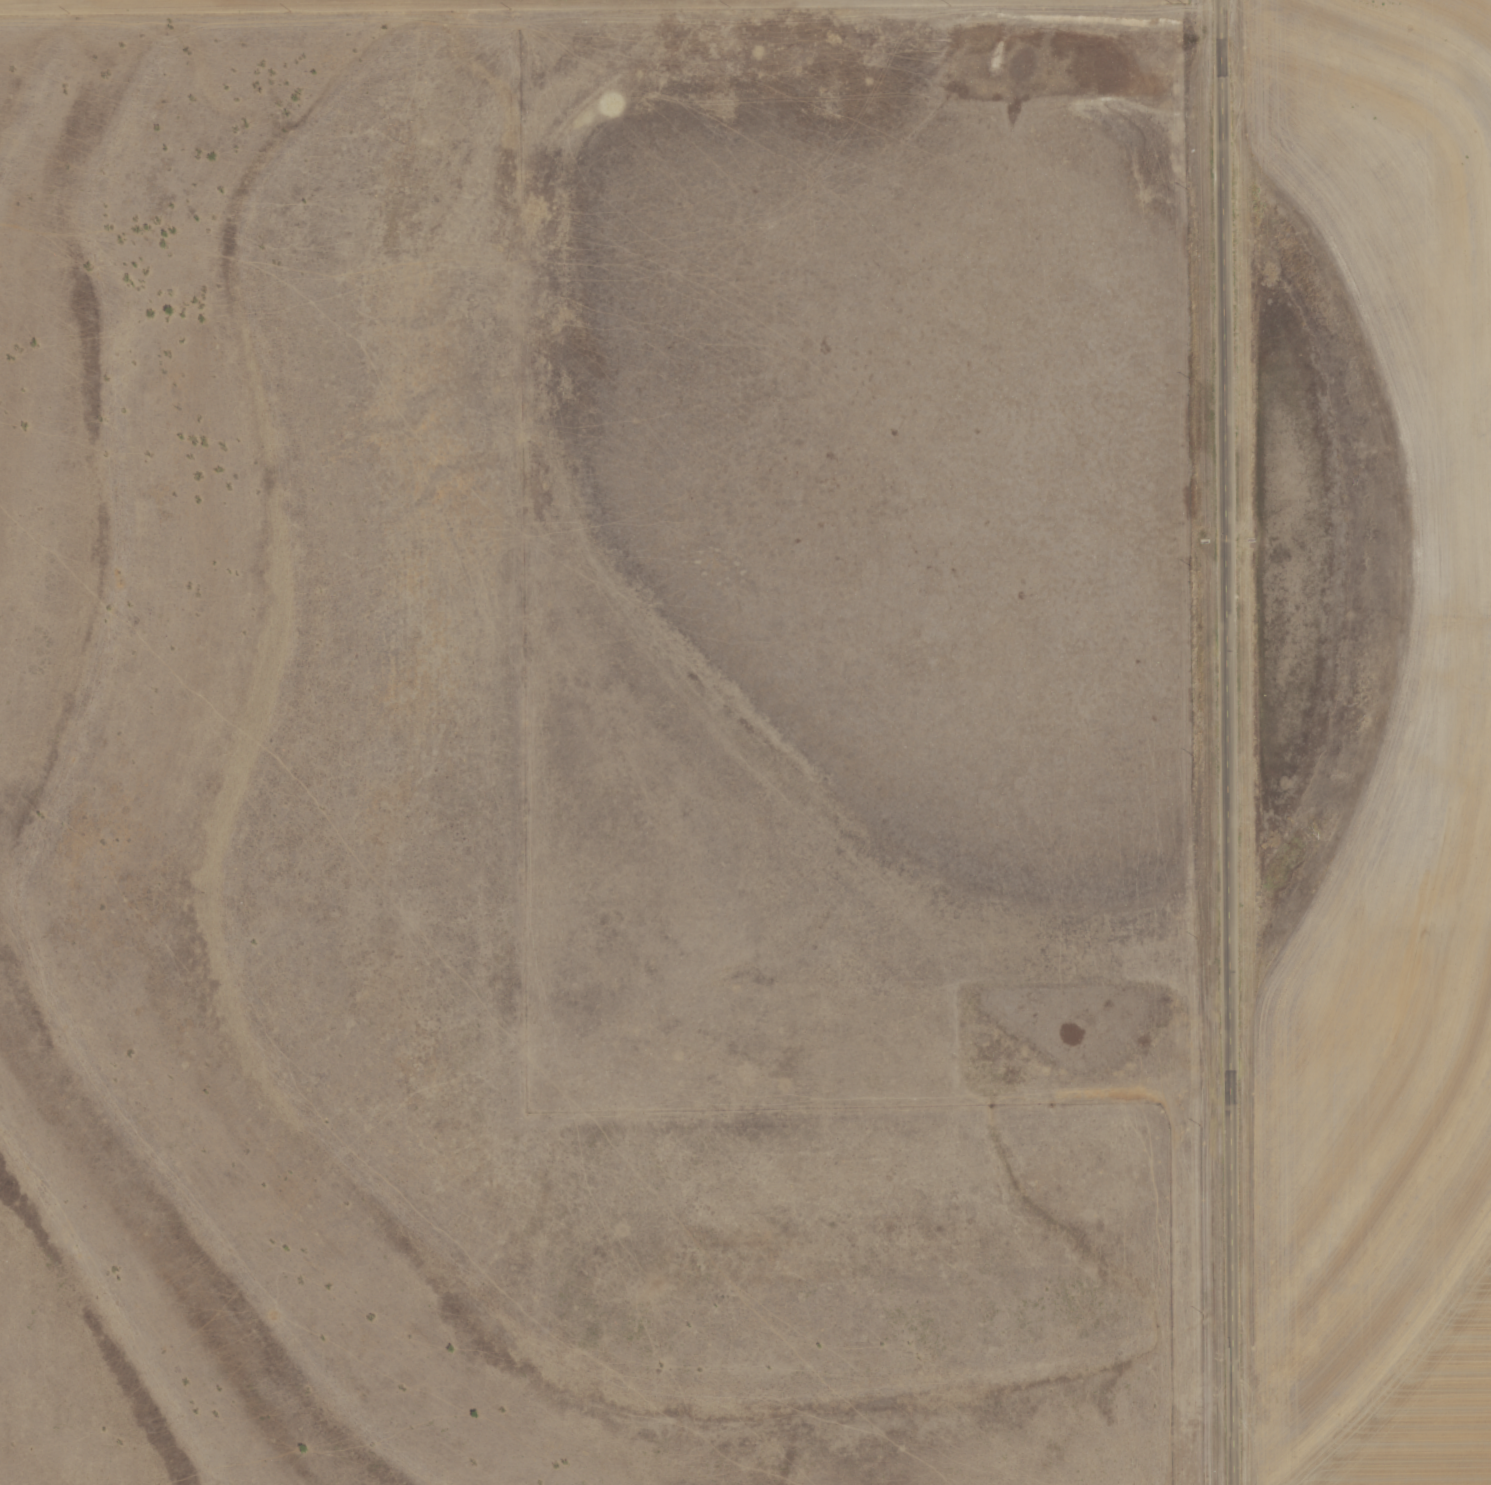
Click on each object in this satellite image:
road: (1225, 742)

